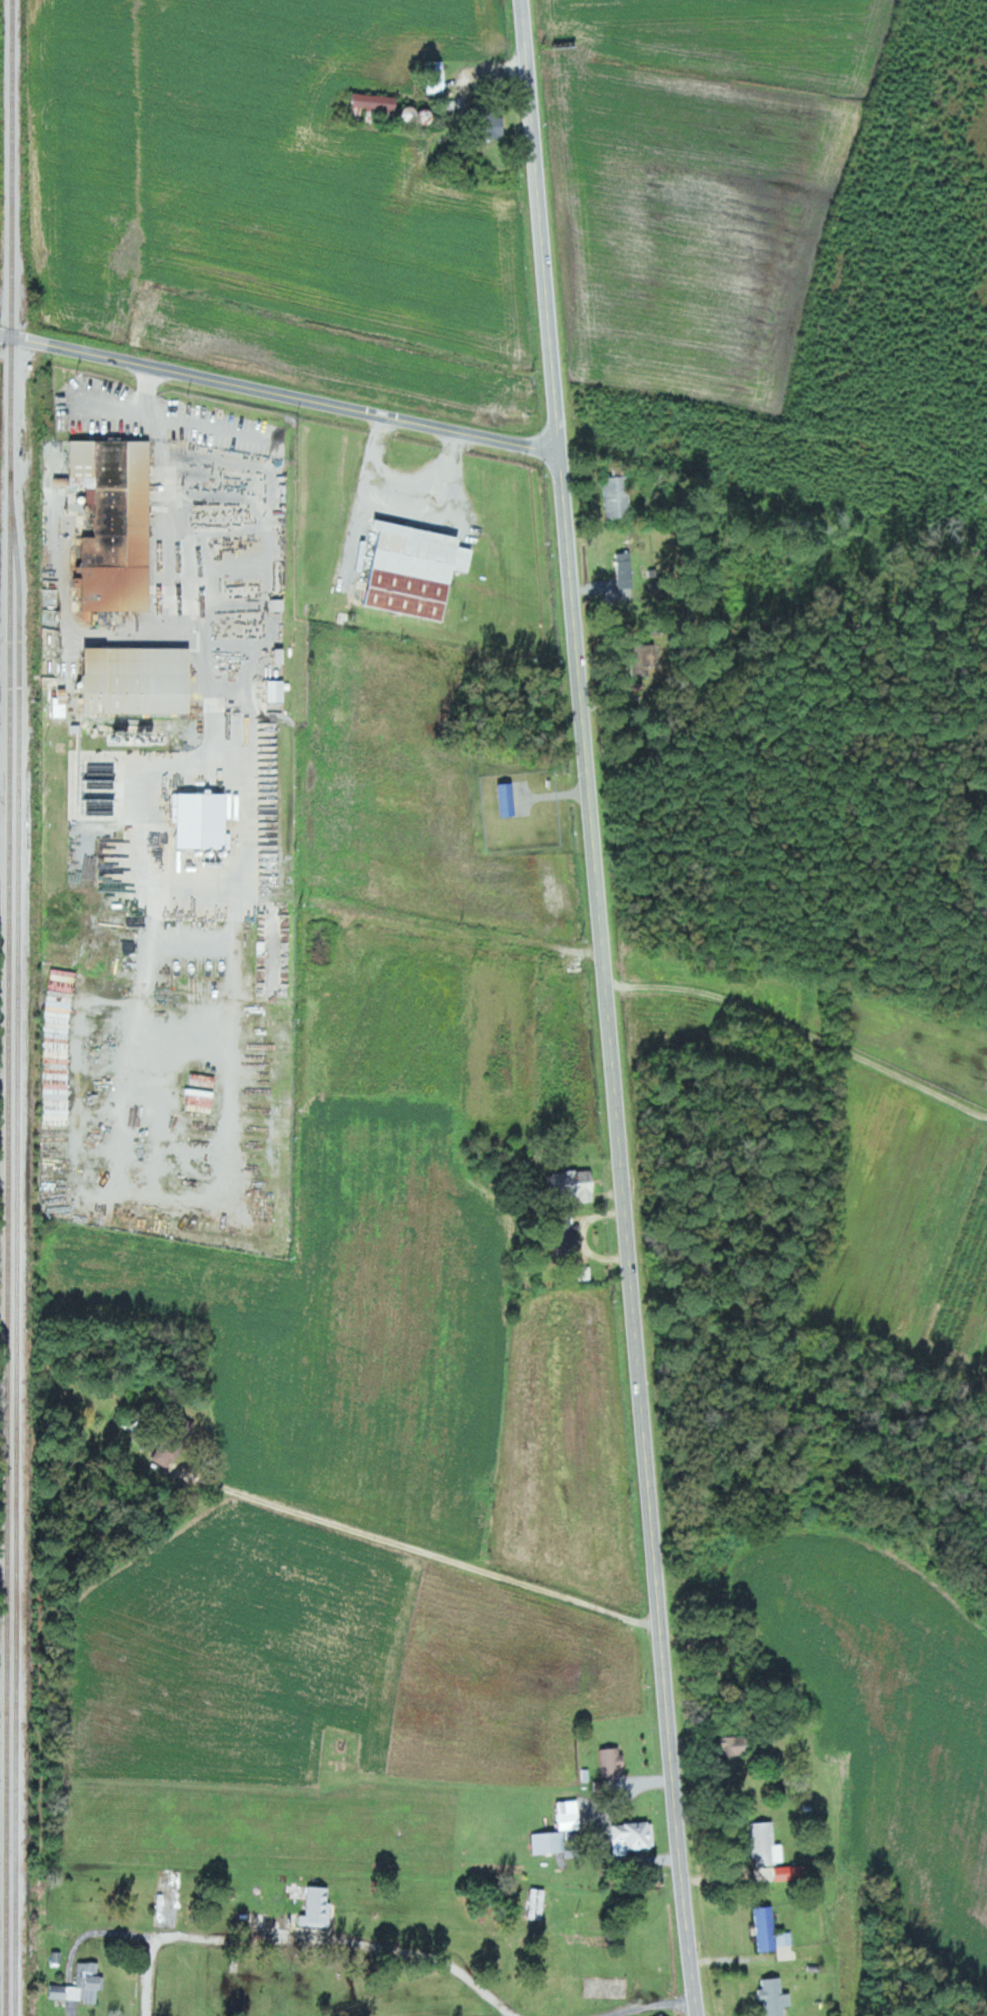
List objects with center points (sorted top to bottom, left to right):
building: (378, 102)
road: (279, 393)
building: (118, 525)
building: (416, 570)
building: (279, 605)
building: (646, 655)
building: (141, 680)
building: (277, 691)
building: (62, 702)
building: (204, 821)
railway: (10, 1008)
road: (605, 1009)
road: (799, 1031)
building: (59, 1047)
building: (202, 1099)
railway: (17, 1243)
building: (169, 1452)
road: (431, 1553)
building: (731, 1746)
building: (633, 1835)
building: (765, 1843)
building: (317, 1906)
building: (767, 1927)
road: (333, 1941)
road: (144, 1986)
building: (776, 1997)
road: (663, 2007)
road: (72, 2011)

